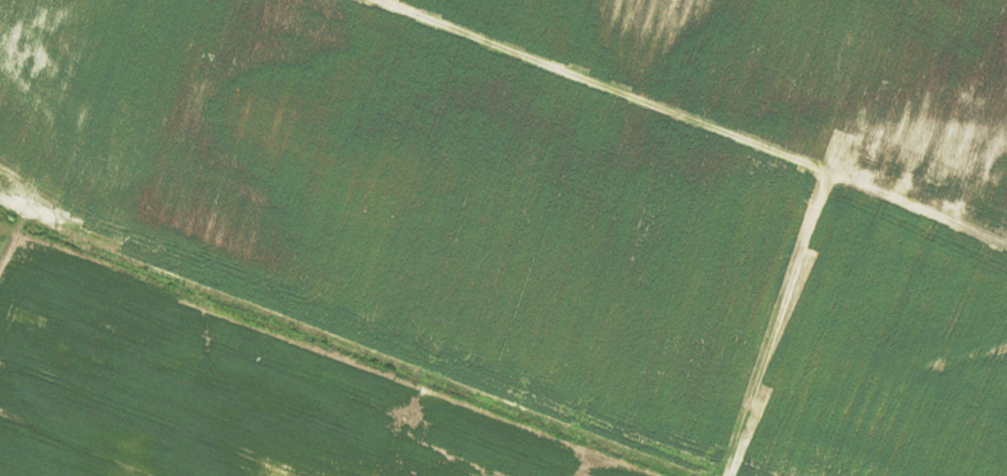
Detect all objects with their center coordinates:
building: (689, 259)

